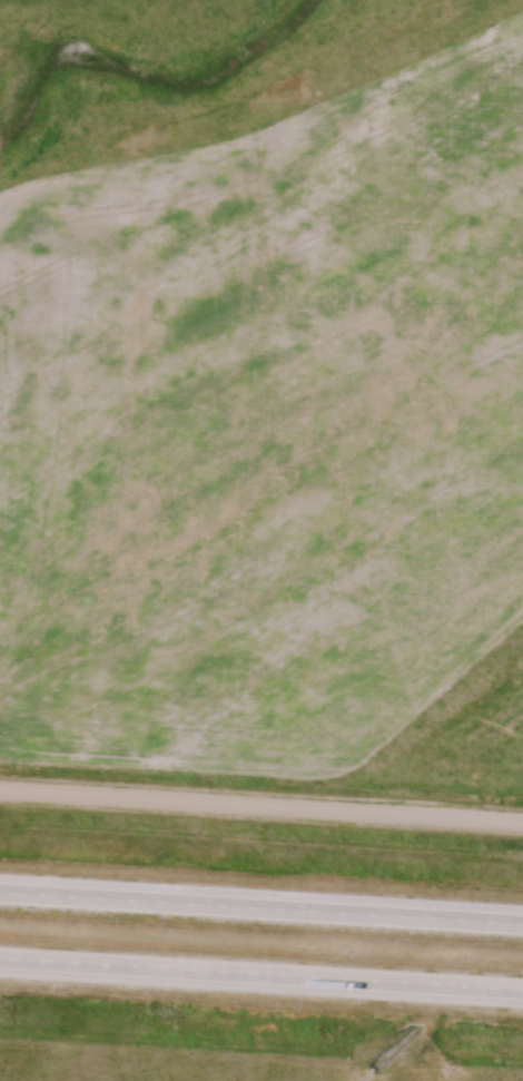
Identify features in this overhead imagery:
road: (260, 806)
road: (260, 906)
road: (260, 972)

